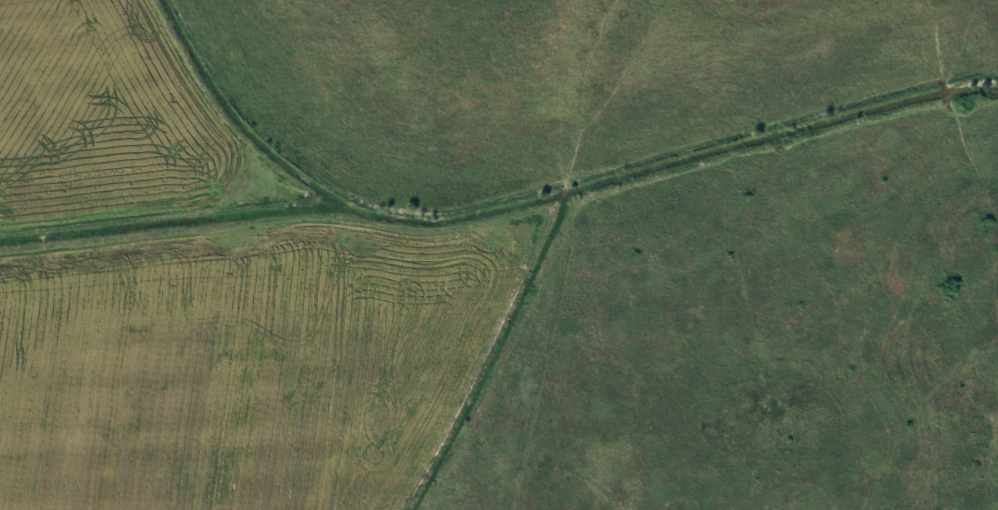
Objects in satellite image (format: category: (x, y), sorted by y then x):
airport runway: (117, 181)

